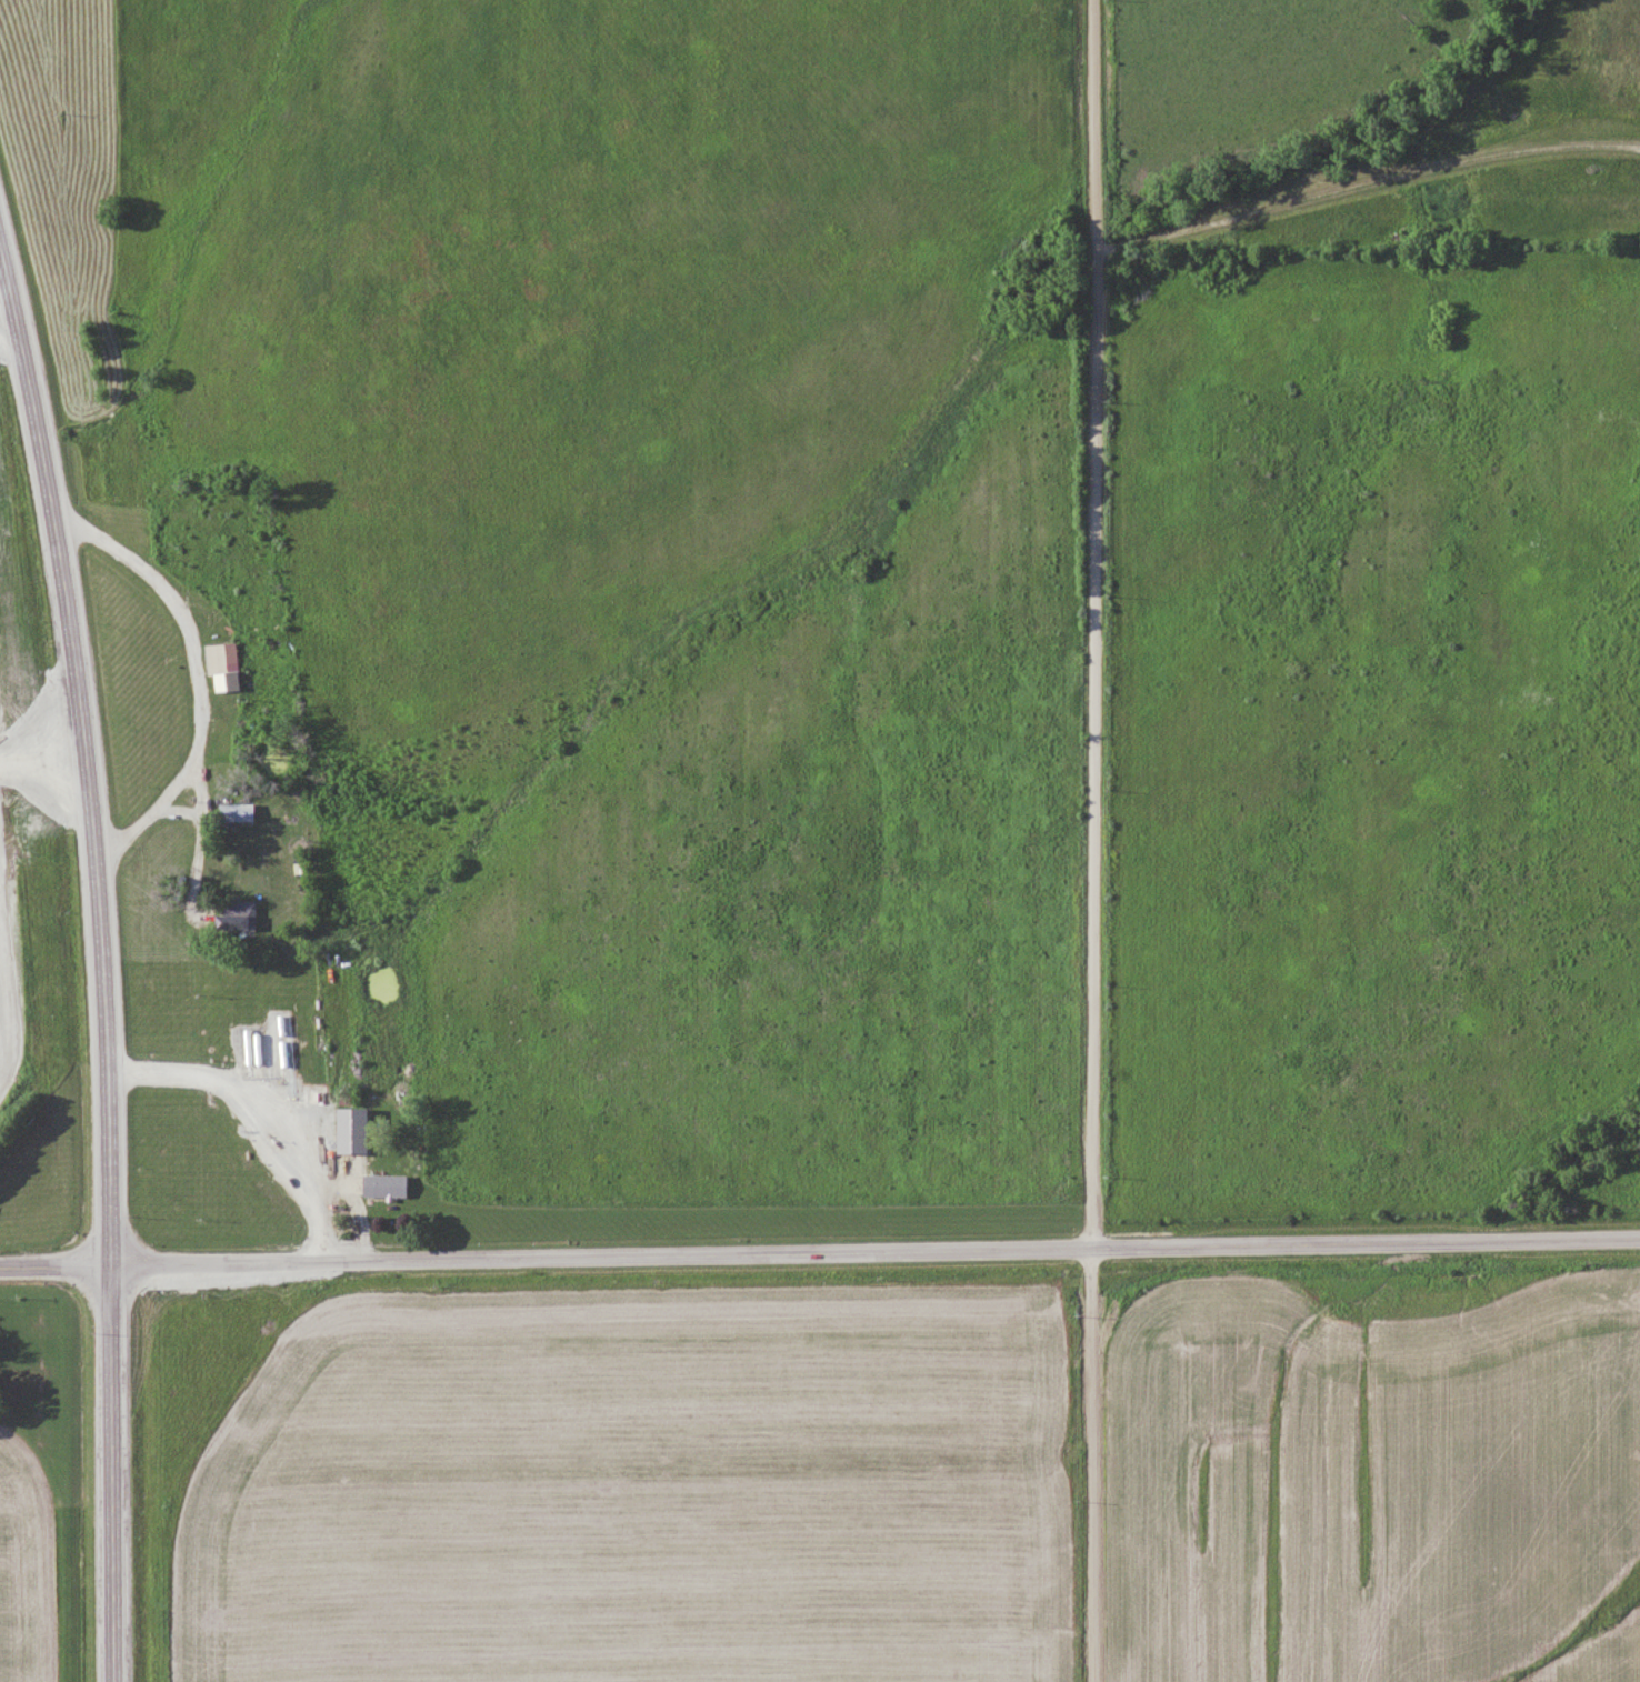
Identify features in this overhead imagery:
building: (219, 667)
road: (193, 688)
building: (233, 812)
road: (148, 817)
road: (1091, 840)
building: (232, 915)
road: (99, 963)
road: (257, 1113)
building: (369, 1179)
road: (874, 1249)
road: (54, 1266)

